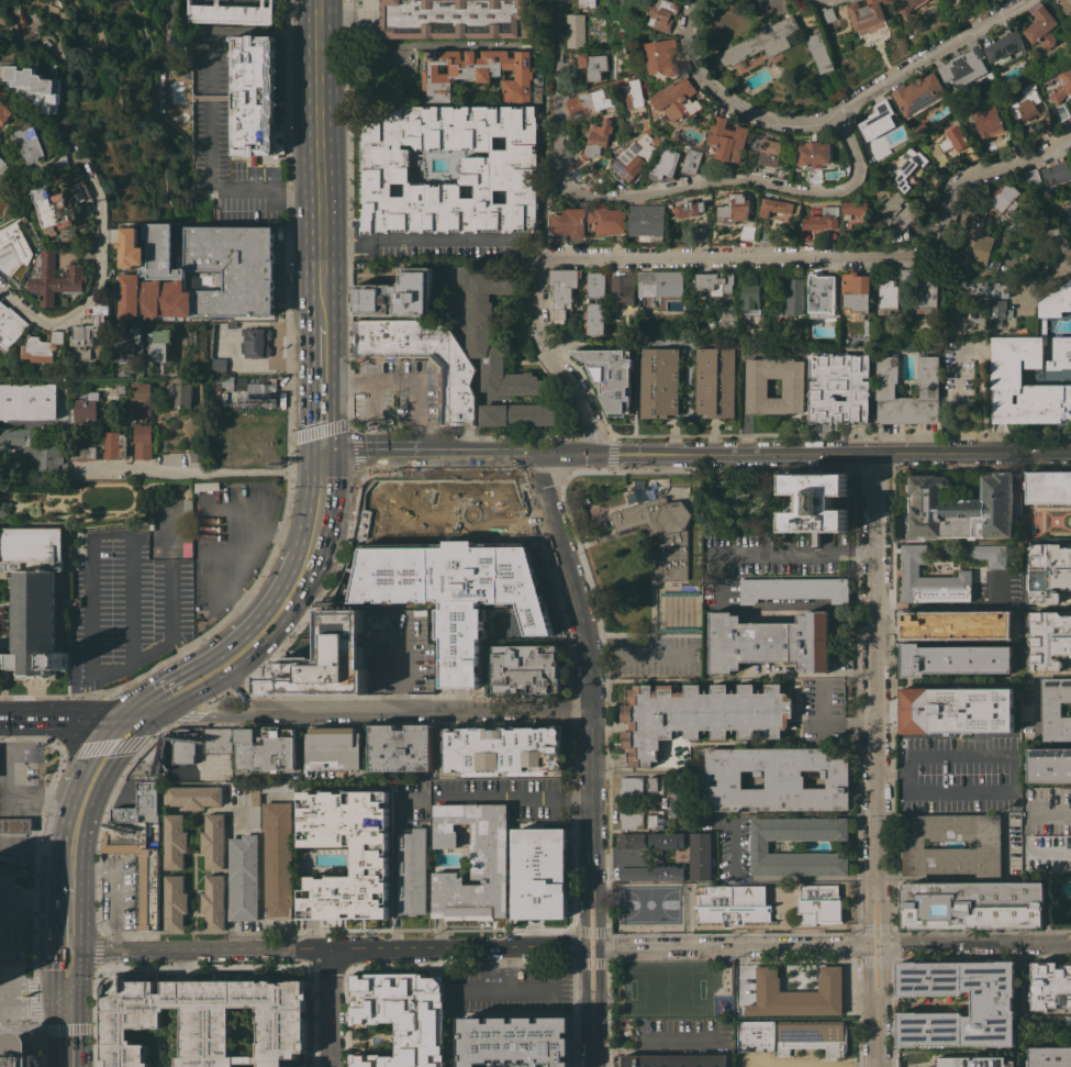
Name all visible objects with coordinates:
building: (580, 4)
building: (908, 5)
building: (1066, 5)
building: (231, 12)
building: (827, 13)
building: (867, 13)
building: (665, 14)
building: (454, 18)
building: (1041, 27)
building: (573, 30)
building: (762, 41)
building: (47, 43)
building: (174, 43)
road: (477, 45)
building: (1005, 48)
building: (821, 52)
building: (663, 56)
building: (1027, 59)
building: (592, 64)
building: (962, 67)
building: (476, 71)
building: (37, 85)
building: (1061, 86)
building: (536, 88)
road: (557, 92)
building: (633, 93)
building: (918, 95)
building: (0, 96)
building: (253, 97)
road: (212, 98)
building: (677, 100)
building: (588, 101)
building: (1023, 101)
building: (7, 112)
road: (833, 113)
building: (1060, 113)
building: (879, 121)
building: (988, 122)
building: (1047, 122)
building: (918, 127)
road: (215, 130)
parking lot: (222, 134)
building: (1013, 140)
building: (726, 141)
building: (36, 142)
building: (593, 143)
building: (952, 145)
road: (317, 147)
building: (3, 148)
building: (767, 149)
building: (813, 153)
building: (635, 157)
building: (691, 160)
building: (3, 165)
building: (499, 165)
building: (665, 165)
building: (910, 169)
building: (935, 170)
building: (577, 173)
building: (1057, 173)
building: (780, 174)
building: (1031, 176)
road: (745, 179)
building: (815, 179)
road: (283, 190)
building: (875, 190)
building: (1006, 198)
building: (60, 204)
building: (774, 205)
building: (688, 208)
building: (735, 209)
building: (1069, 210)
building: (854, 212)
building: (897, 212)
building: (823, 219)
building: (607, 222)
building: (647, 222)
building: (568, 226)
building: (746, 233)
building: (766, 234)
road: (371, 240)
road: (458, 240)
road: (297, 245)
building: (980, 252)
road: (1060, 253)
road: (836, 256)
building: (225, 269)
building: (906, 275)
building: (60, 279)
road: (107, 281)
building: (661, 282)
building: (715, 282)
building: (595, 285)
building: (990, 288)
building: (623, 289)
building: (562, 291)
building: (822, 292)
building: (855, 292)
building: (397, 294)
road: (297, 296)
building: (793, 296)
building: (886, 296)
building: (927, 297)
building: (748, 299)
building: (68, 300)
building: (999, 312)
building: (593, 318)
building: (479, 323)
building: (230, 324)
building: (11, 325)
building: (92, 331)
road: (320, 340)
building: (131, 341)
building: (255, 342)
building: (159, 343)
building: (45, 347)
building: (1016, 352)
building: (423, 359)
road: (549, 362)
building: (216, 363)
building: (610, 376)
road: (740, 376)
building: (715, 381)
building: (234, 382)
building: (659, 382)
road: (403, 384)
building: (839, 387)
building: (78, 389)
building: (120, 389)
building: (793, 389)
parking lot: (400, 390)
building: (885, 390)
building: (259, 392)
building: (179, 393)
road: (373, 398)
building: (142, 399)
building: (27, 401)
building: (85, 408)
building: (522, 414)
road: (321, 419)
building: (18, 436)
building: (142, 441)
building: (114, 445)
road: (490, 452)
road: (543, 452)
road: (813, 452)
building: (81, 453)
road: (368, 453)
road: (433, 453)
traffic signals: (321, 454)
building: (196, 455)
building: (45, 456)
road: (321, 463)
road: (148, 470)
road: (272, 470)
building: (1048, 488)
building: (189, 493)
building: (634, 496)
building: (187, 502)
building: (815, 502)
building: (838, 502)
building: (961, 508)
building: (4, 509)
road: (317, 513)
building: (599, 526)
building: (661, 533)
building: (991, 555)
road: (796, 556)
road: (241, 562)
road: (300, 570)
building: (1048, 571)
building: (929, 579)
building: (793, 589)
building: (451, 591)
building: (32, 598)
road: (133, 601)
road: (89, 604)
road: (175, 604)
parking lot: (126, 607)
road: (786, 607)
road: (291, 619)
building: (915, 623)
road: (917, 626)
road: (264, 629)
building: (1048, 640)
building: (769, 642)
road: (263, 652)
road: (310, 652)
road: (637, 654)
building: (955, 659)
building: (324, 660)
road: (398, 660)
road: (585, 660)
road: (878, 664)
road: (135, 666)
road: (219, 668)
building: (526, 668)
road: (227, 678)
road: (170, 693)
road: (246, 708)
building: (1056, 709)
building: (956, 710)
road: (428, 711)
road: (228, 714)
building: (698, 715)
road: (5, 718)
road: (46, 718)
road: (163, 718)
road: (109, 719)
traffic signals: (137, 720)
road: (827, 725)
road: (69, 731)
building: (217, 740)
building: (183, 746)
building: (401, 747)
building: (266, 748)
building: (333, 748)
road: (83, 749)
road: (5, 751)
building: (501, 751)
road: (11, 759)
road: (5, 760)
road: (946, 762)
road: (97, 764)
building: (152, 764)
building: (1049, 765)
road: (5, 771)
building: (778, 778)
building: (277, 786)
building: (631, 786)
building: (655, 786)
road: (933, 791)
building: (192, 796)
road: (504, 796)
road: (574, 799)
building: (676, 802)
building: (140, 805)
building: (254, 805)
road: (43, 808)
road: (11, 809)
road: (1051, 812)
building: (631, 819)
building: (655, 819)
road: (11, 824)
building: (15, 824)
gas station: (15, 824)
road: (38, 835)
road: (11, 840)
road: (69, 840)
building: (631, 840)
building: (666, 840)
building: (174, 841)
building: (213, 841)
building: (914, 844)
building: (759, 846)
road: (34, 851)
building: (700, 856)
building: (277, 859)
road: (392, 859)
building: (370, 860)
building: (472, 863)
road: (67, 866)
building: (137, 867)
building: (412, 871)
building: (539, 873)
building: (651, 873)
road: (778, 877)
building: (243, 878)
road: (971, 878)
road: (115, 886)
road: (65, 887)
road: (5, 888)
parking lot: (118, 890)
building: (175, 902)
building: (213, 902)
park: (649, 904)
building: (733, 904)
building: (818, 904)
building: (972, 904)
road: (63, 929)
road: (877, 929)
road: (594, 931)
road: (16, 936)
park: (707, 938)
road: (978, 945)
road: (869, 946)
road: (884, 946)
road: (587, 947)
road: (601, 947)
road: (877, 947)
road: (735, 948)
road: (594, 951)
road: (350, 952)
road: (88, 953)
traffic signals: (100, 953)
road: (878, 959)
road: (594, 962)
traffic signals: (63, 969)
road: (63, 972)
building: (1051, 986)
road: (31, 989)
park: (668, 989)
building: (514, 992)
building: (795, 994)
road: (33, 1000)
road: (64, 1001)
building: (991, 1003)
road: (332, 1010)
traffic signals: (29, 1012)
road: (33, 1012)
building: (401, 1016)
building: (204, 1020)
road: (33, 1025)
traffic signals: (66, 1033)
building: (755, 1035)
building: (812, 1036)
building: (520, 1037)
road: (66, 1040)
road: (877, 1041)
road: (595, 1042)
building: (13, 1044)
parking lot: (15, 1051)
building: (1050, 1056)
building: (674, 1060)
building: (972, 1062)
road: (781, 1065)

